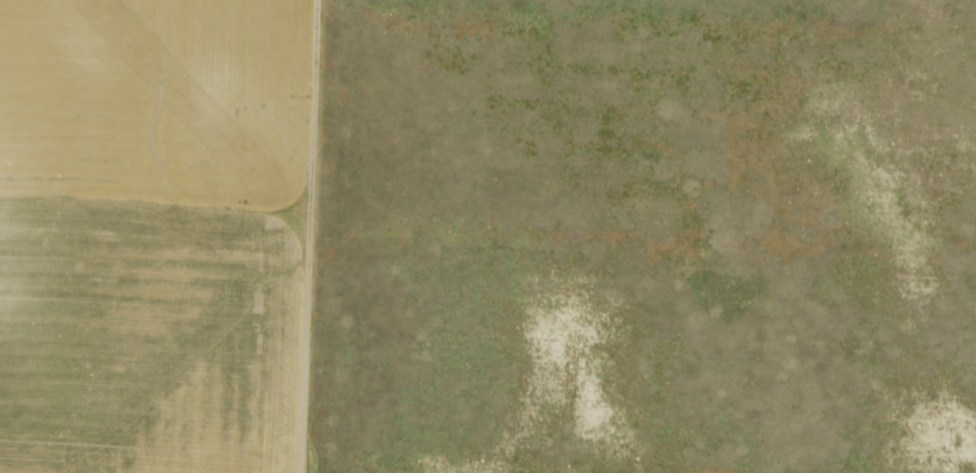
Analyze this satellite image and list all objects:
crop: (149, 234)
road: (312, 236)

